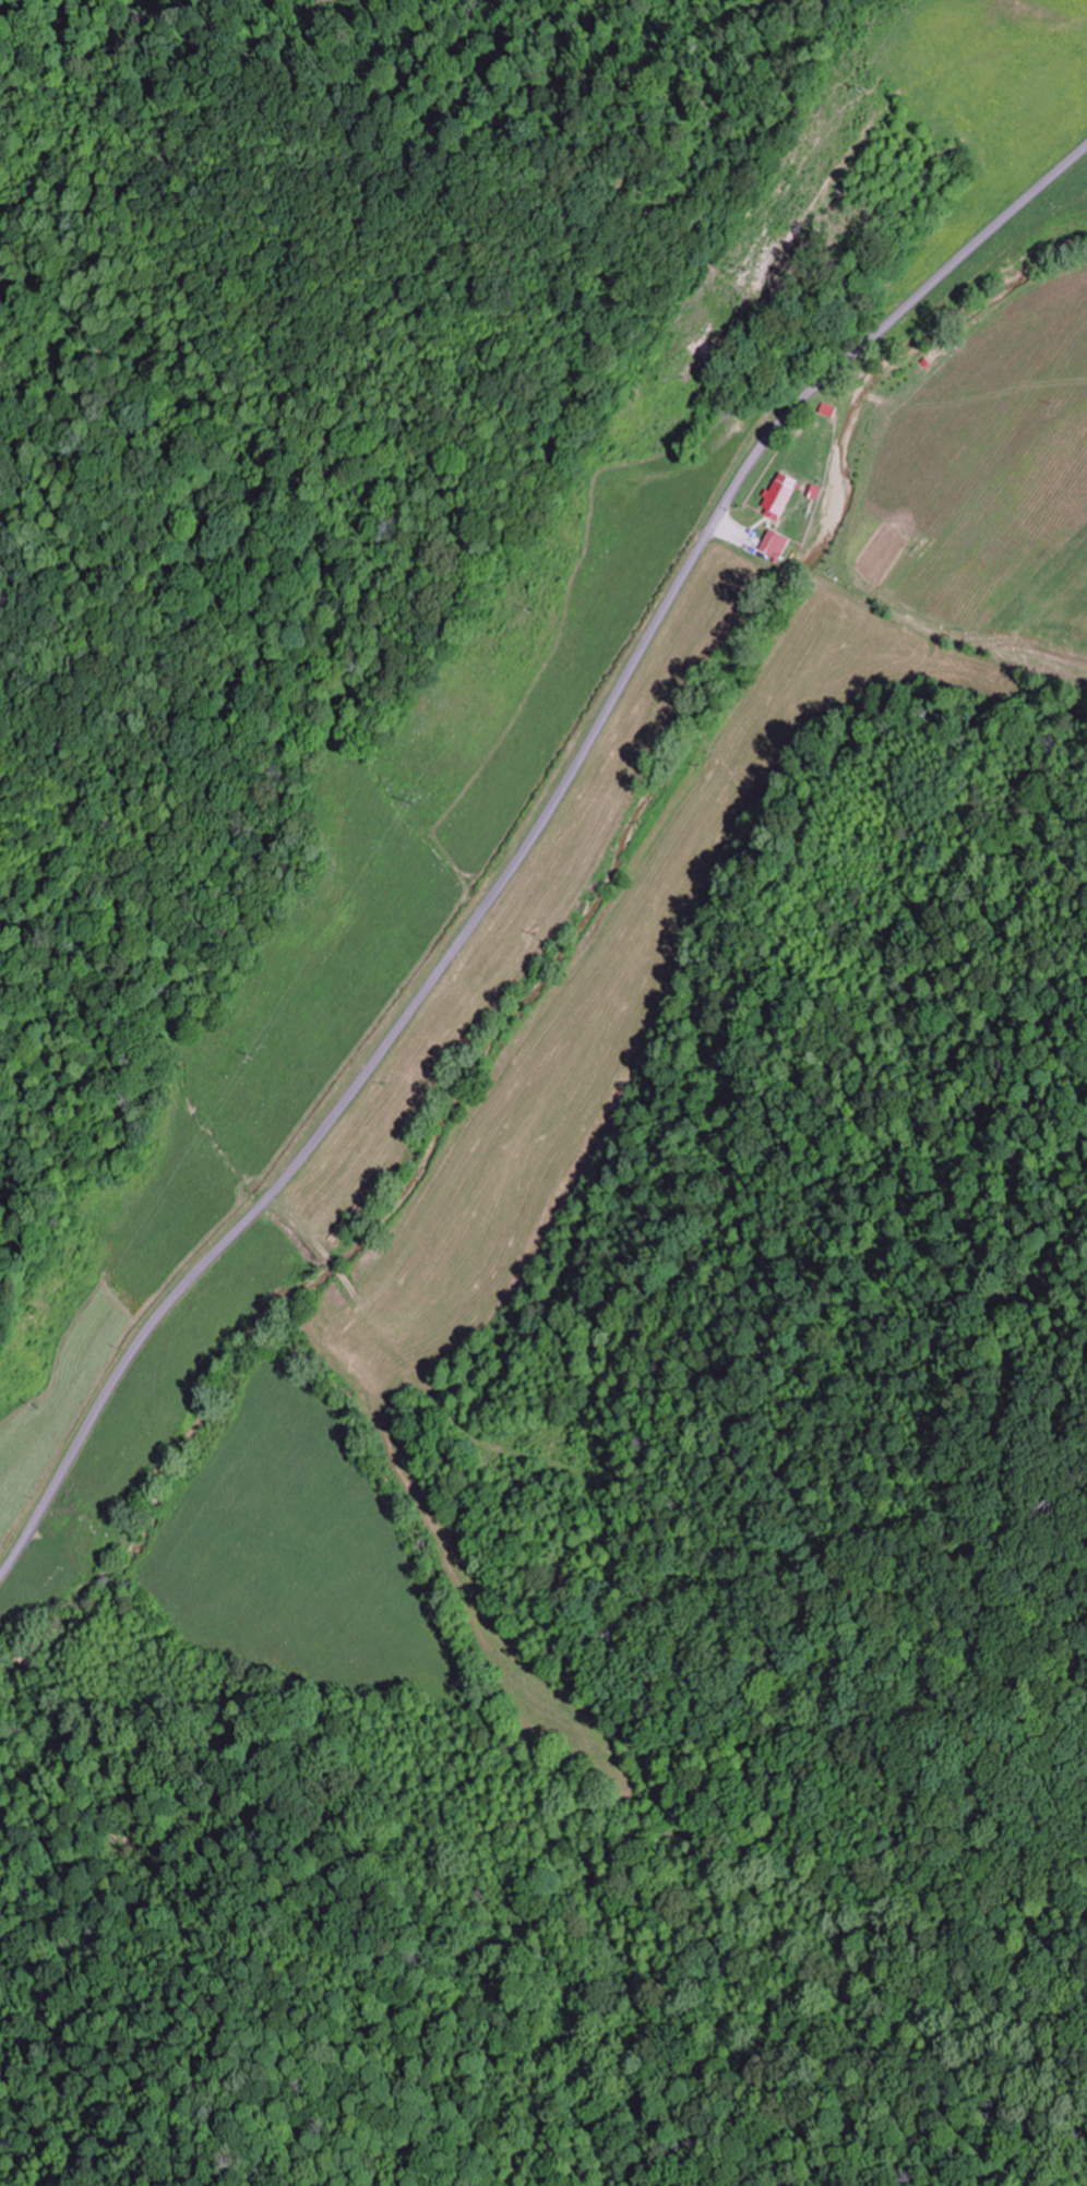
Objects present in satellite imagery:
building: (775, 500)
road: (528, 840)
building: (88, 1538)

